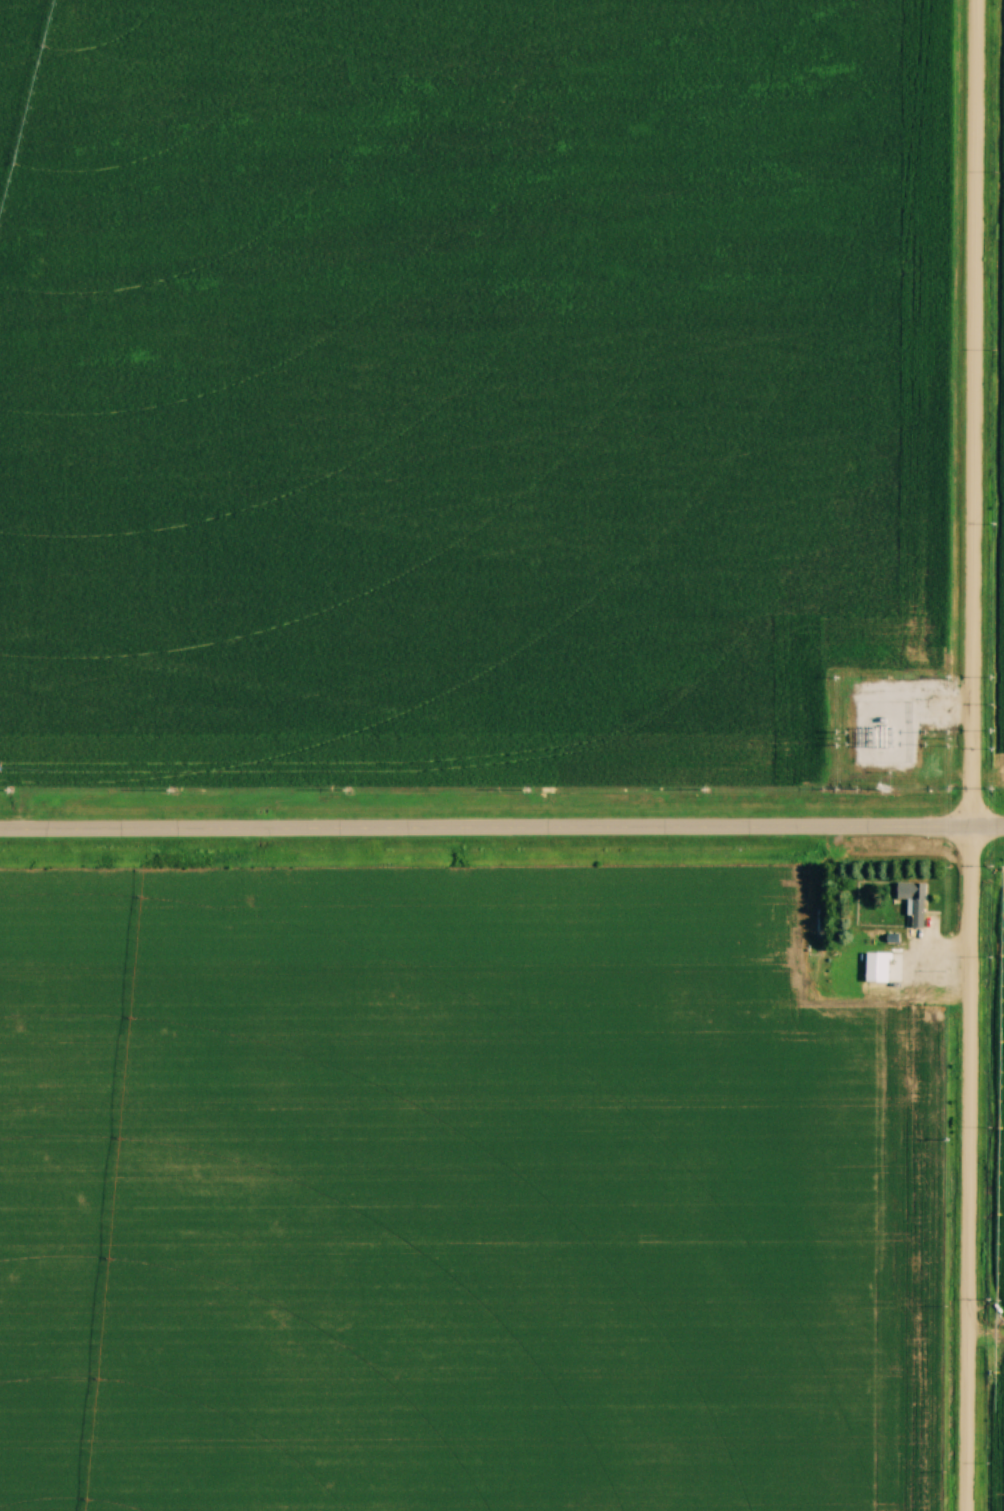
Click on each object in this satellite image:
power substation: (888, 729)
road: (970, 755)
road: (502, 830)
building: (914, 905)
crop: (441, 1195)

